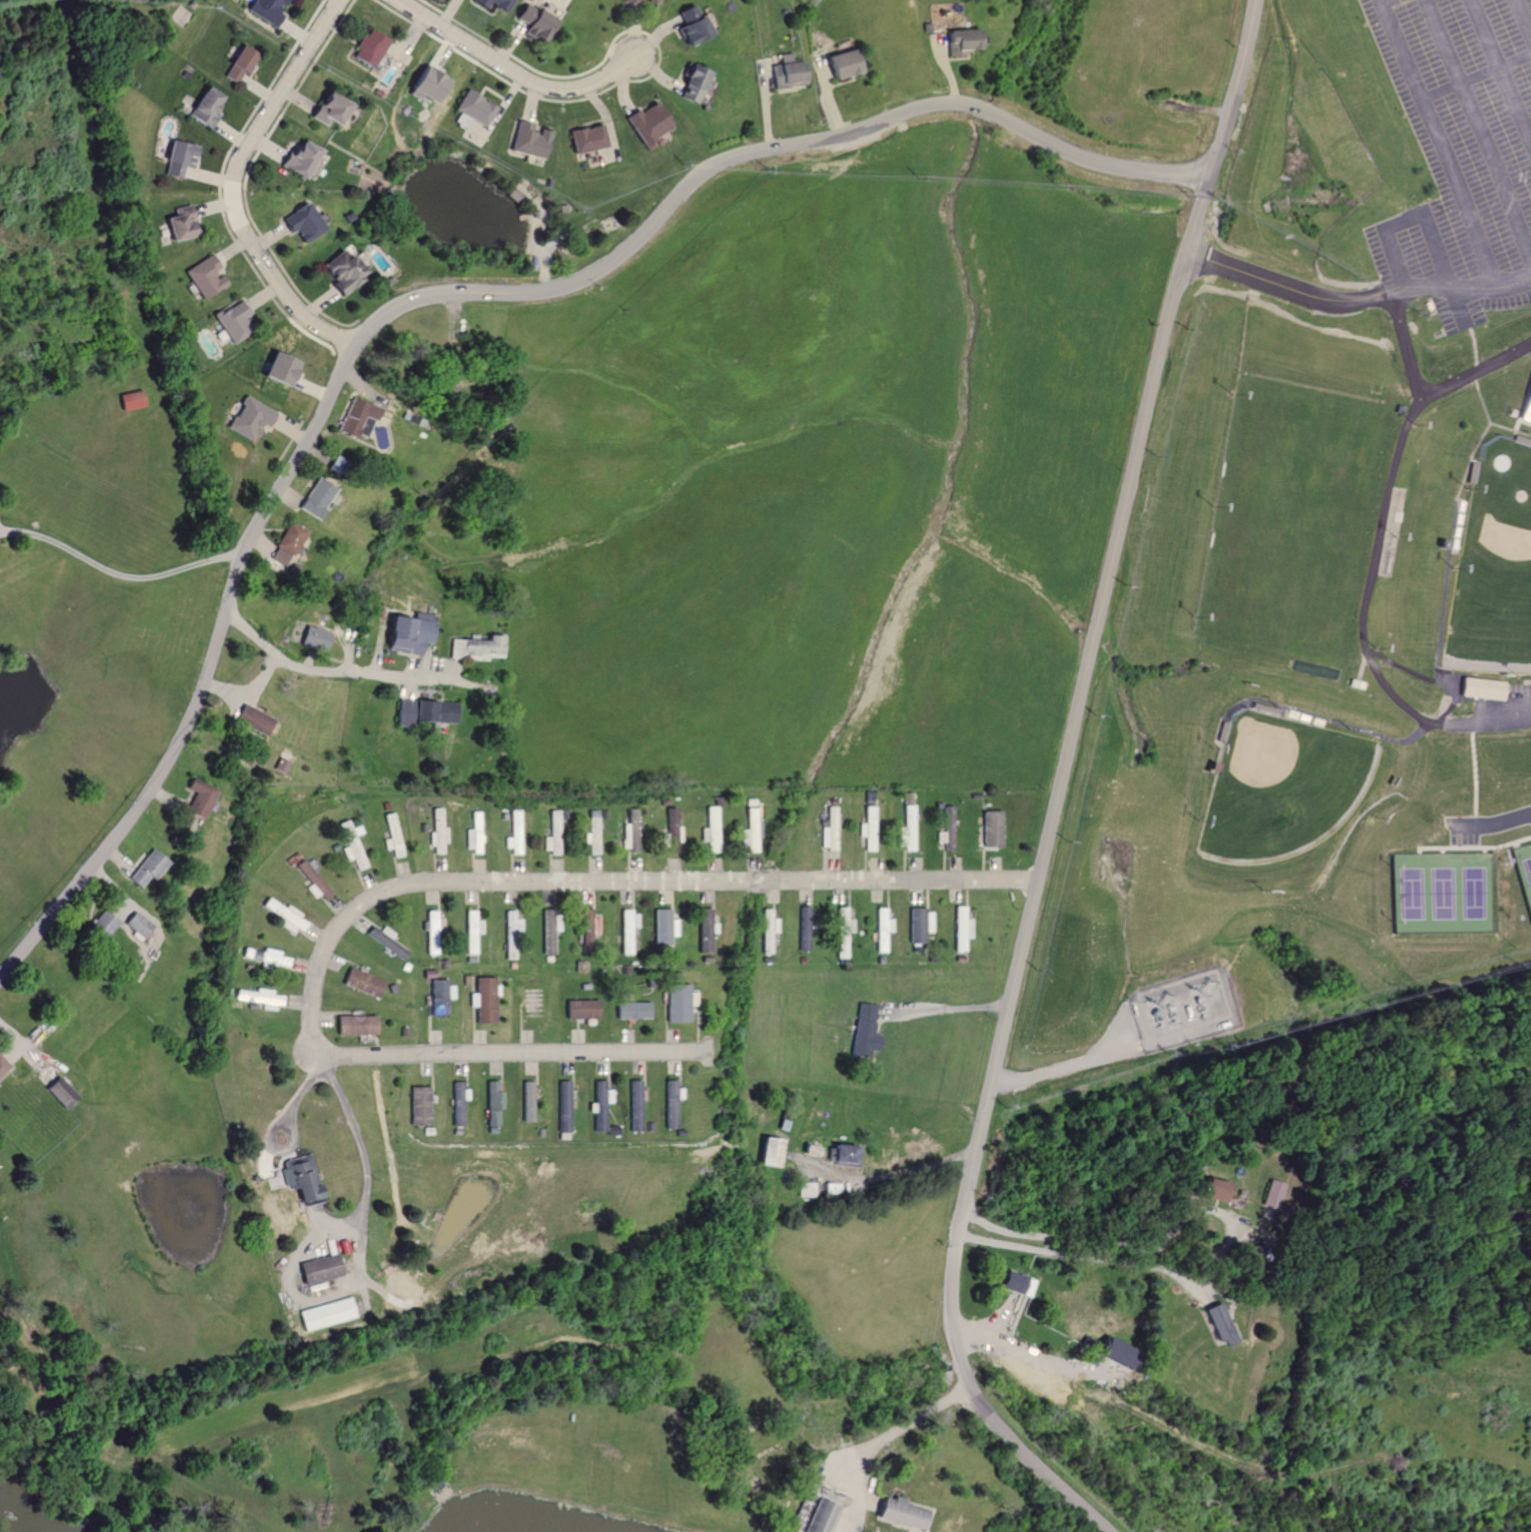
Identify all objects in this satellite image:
building: (631, 1)
building: (652, 1)
road: (1383, 2)
building: (494, 3)
building: (268, 9)
building: (533, 21)
building: (689, 22)
road: (1521, 22)
building: (959, 41)
building: (370, 47)
building: (240, 63)
building: (840, 63)
road: (509, 72)
road: (1473, 73)
building: (786, 74)
road: (1500, 78)
building: (690, 83)
building: (428, 84)
building: (206, 107)
building: (472, 108)
building: (329, 109)
road: (981, 110)
building: (648, 121)
road: (1476, 134)
building: (584, 138)
building: (526, 140)
road: (1435, 142)
building: (180, 158)
building: (299, 158)
road: (1096, 159)
road: (233, 184)
road: (1421, 221)
building: (181, 222)
building: (303, 222)
building: (341, 271)
building: (206, 276)
road: (1283, 285)
road: (1459, 287)
building: (234, 321)
road: (345, 364)
building: (279, 368)
road: (1425, 393)
building: (129, 400)
building: (1525, 404)
building: (356, 416)
building: (250, 418)
building: (317, 497)
park: (1291, 520)
park: (1306, 528)
building: (288, 543)
stadium: (1492, 566)
road: (120, 569)
park: (1499, 577)
building: (406, 633)
building: (314, 638)
building: (475, 647)
road: (349, 674)
building: (1481, 690)
building: (423, 712)
building: (253, 719)
building: (285, 762)
road: (1057, 786)
park: (1279, 786)
building: (198, 798)
building: (674, 825)
building: (868, 828)
building: (907, 829)
building: (991, 829)
building: (711, 830)
building: (829, 830)
building: (947, 830)
building: (634, 831)
building: (749, 831)
building: (438, 832)
building: (596, 832)
building: (517, 833)
building: (555, 834)
building: (393, 835)
building: (352, 845)
building: (147, 869)
building: (314, 881)
road: (411, 884)
building: (803, 915)
building: (138, 925)
building: (920, 925)
building: (100, 926)
building: (589, 926)
building: (664, 927)
building: (961, 928)
building: (884, 929)
building: (705, 930)
building: (767, 930)
building: (473, 931)
building: (627, 931)
building: (510, 932)
building: (843, 932)
building: (431, 933)
building: (383, 940)
building: (362, 983)
building: (440, 997)
building: (262, 998)
building: (485, 1000)
building: (678, 1003)
road: (950, 1009)
building: (581, 1010)
building: (633, 1010)
power substation: (1173, 1013)
building: (354, 1025)
building: (863, 1032)
building: (2, 1066)
building: (59, 1093)
building: (529, 1101)
building: (602, 1102)
building: (459, 1104)
building: (493, 1104)
building: (670, 1104)
building: (419, 1106)
road: (357, 1138)
building: (768, 1152)
building: (841, 1154)
road: (906, 1168)
building: (301, 1179)
building: (1211, 1190)
road: (1162, 1246)
road: (1084, 1247)
building: (318, 1269)
building: (1015, 1283)
building: (328, 1314)
building: (1218, 1323)
road: (880, 1440)
building: (910, 1511)
building: (825, 1514)

